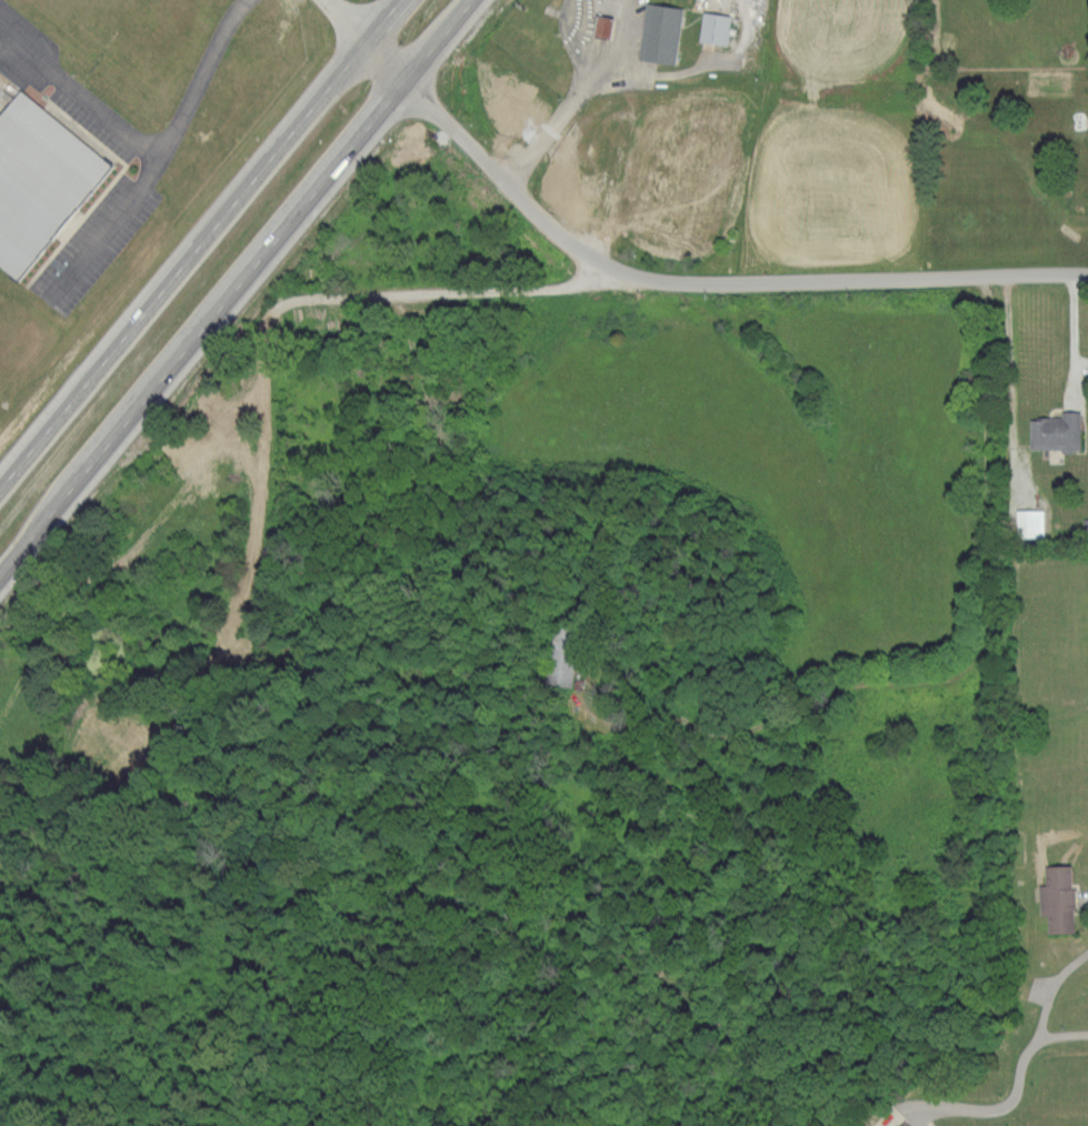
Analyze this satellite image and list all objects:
building: (715, 27)
road: (625, 30)
building: (661, 31)
road: (705, 57)
road: (198, 77)
road: (79, 94)
road: (565, 107)
building: (702, 152)
building: (40, 180)
road: (632, 198)
road: (651, 220)
road: (102, 229)
road: (200, 243)
road: (775, 280)
road: (236, 288)
road: (1071, 339)
road: (258, 381)
building: (217, 409)
building: (1056, 432)
building: (1032, 522)
building: (560, 657)
road: (985, 722)
road: (779, 724)
building: (1058, 898)
road: (1054, 1006)
road: (1010, 1100)
building: (905, 1124)

